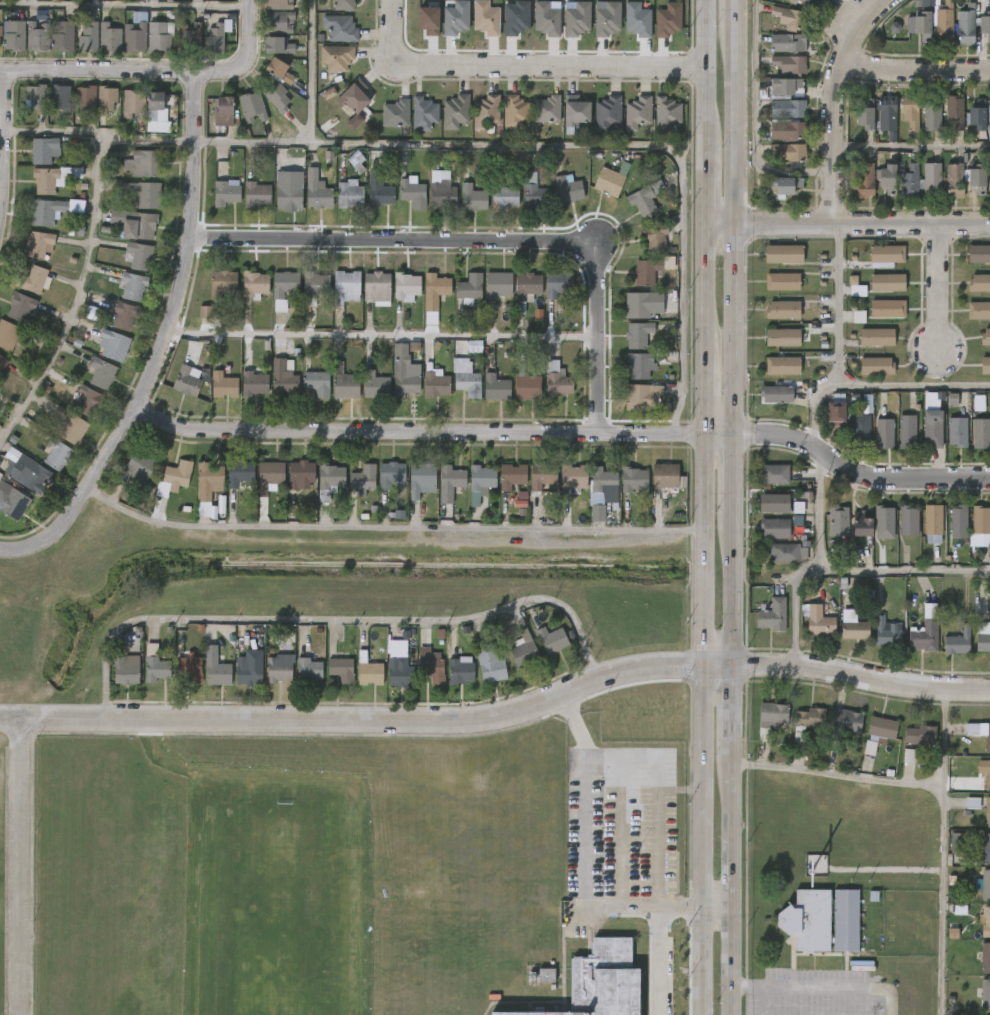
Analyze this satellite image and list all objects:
building: (153, 0)
building: (792, 1)
building: (805, 1)
building: (278, 4)
building: (344, 4)
road: (125, 6)
road: (740, 6)
building: (788, 16)
building: (456, 18)
building: (485, 18)
building: (515, 18)
building: (547, 18)
building: (576, 18)
building: (607, 19)
building: (637, 20)
building: (668, 20)
building: (276, 21)
building: (429, 21)
building: (985, 23)
building: (921, 24)
building: (955, 25)
building: (341, 27)
road: (392, 32)
building: (15, 35)
building: (158, 35)
building: (38, 36)
building: (134, 36)
building: (62, 37)
building: (88, 37)
building: (109, 37)
building: (190, 37)
building: (216, 39)
building: (788, 41)
building: (278, 44)
building: (0, 48)
building: (336, 57)
building: (789, 63)
road: (547, 68)
road: (920, 68)
building: (278, 69)
road: (309, 70)
road: (156, 71)
building: (787, 84)
building: (59, 96)
building: (35, 97)
building: (86, 97)
building: (353, 97)
building: (105, 98)
building: (276, 98)
road: (842, 102)
building: (132, 103)
building: (251, 107)
building: (225, 108)
building: (788, 108)
building: (547, 109)
building: (576, 110)
building: (455, 111)
building: (486, 111)
building: (514, 111)
building: (911, 111)
building: (158, 112)
building: (607, 112)
building: (637, 112)
building: (667, 112)
building: (954, 112)
building: (424, 113)
building: (866, 113)
building: (887, 113)
building: (932, 113)
building: (395, 114)
building: (979, 114)
building: (354, 122)
road: (757, 122)
road: (1, 129)
building: (787, 129)
road: (51, 132)
road: (1, 136)
road: (369, 141)
road: (915, 148)
building: (42, 149)
building: (789, 151)
building: (142, 163)
building: (978, 177)
building: (888, 178)
building: (932, 178)
building: (44, 179)
building: (954, 180)
building: (607, 181)
building: (910, 181)
building: (865, 182)
building: (784, 184)
building: (567, 188)
building: (377, 189)
building: (441, 190)
building: (287, 192)
building: (534, 192)
building: (144, 193)
building: (225, 193)
building: (256, 193)
building: (413, 193)
building: (503, 193)
building: (317, 194)
building: (348, 194)
building: (989, 194)
building: (472, 198)
building: (643, 198)
building: (46, 211)
road: (843, 219)
building: (136, 224)
road: (741, 226)
building: (653, 237)
road: (481, 241)
building: (41, 244)
building: (888, 253)
building: (785, 254)
building: (978, 254)
building: (139, 255)
building: (644, 272)
building: (35, 280)
building: (782, 281)
building: (889, 282)
building: (222, 283)
building: (284, 283)
building: (978, 283)
building: (556, 284)
building: (495, 285)
building: (136, 286)
building: (253, 286)
building: (314, 286)
building: (406, 286)
building: (468, 286)
building: (346, 287)
building: (855, 287)
road: (935, 287)
building: (377, 288)
building: (524, 288)
building: (435, 289)
road: (837, 302)
building: (639, 304)
building: (22, 307)
building: (888, 308)
building: (784, 310)
building: (977, 311)
building: (89, 312)
building: (205, 312)
building: (127, 316)
building: (858, 316)
building: (430, 318)
road: (697, 332)
building: (636, 333)
road: (380, 334)
building: (9, 335)
building: (783, 337)
building: (878, 337)
building: (984, 337)
road: (163, 344)
building: (116, 346)
building: (474, 347)
building: (4, 362)
building: (637, 364)
building: (984, 364)
building: (783, 365)
building: (876, 366)
building: (404, 371)
building: (101, 373)
building: (204, 375)
building: (282, 377)
building: (185, 380)
building: (557, 381)
building: (254, 382)
building: (317, 382)
building: (343, 382)
building: (435, 382)
building: (223, 384)
building: (468, 384)
building: (525, 384)
building: (375, 385)
road: (871, 385)
building: (496, 387)
building: (777, 393)
building: (640, 396)
building: (84, 397)
building: (934, 400)
building: (867, 404)
building: (837, 412)
building: (72, 425)
building: (861, 428)
building: (957, 429)
road: (433, 431)
building: (907, 431)
building: (884, 432)
building: (933, 432)
building: (981, 432)
building: (60, 453)
building: (140, 464)
building: (30, 471)
building: (238, 472)
building: (178, 473)
building: (299, 473)
building: (773, 473)
building: (390, 474)
building: (269, 475)
building: (512, 476)
building: (665, 476)
road: (738, 476)
building: (421, 477)
building: (541, 478)
building: (363, 479)
building: (634, 479)
building: (207, 480)
building: (572, 480)
building: (329, 481)
building: (450, 482)
road: (859, 482)
building: (479, 483)
building: (602, 484)
building: (14, 500)
building: (772, 502)
building: (932, 519)
building: (838, 520)
building: (906, 520)
building: (980, 520)
building: (957, 521)
building: (884, 522)
building: (859, 523)
road: (386, 526)
building: (773, 527)
building: (783, 552)
road: (811, 569)
road: (902, 571)
road: (738, 591)
building: (770, 613)
road: (334, 619)
building: (819, 621)
building: (853, 629)
building: (885, 634)
building: (923, 635)
building: (981, 636)
building: (550, 639)
building: (957, 641)
building: (522, 650)
building: (431, 664)
building: (154, 665)
building: (215, 667)
road: (718, 667)
building: (278, 668)
building: (399, 668)
building: (492, 668)
building: (123, 669)
building: (187, 669)
building: (309, 669)
building: (342, 669)
building: (369, 670)
building: (460, 670)
building: (248, 673)
road: (865, 679)
building: (773, 714)
building: (810, 718)
road: (353, 719)
building: (847, 721)
building: (879, 733)
building: (980, 733)
building: (922, 735)
building: (909, 756)
building: (985, 771)
road: (839, 775)
road: (697, 785)
road: (738, 787)
road: (655, 797)
road: (585, 799)
building: (979, 807)
building: (959, 842)
building: (985, 847)
road: (941, 850)
road: (20, 867)
building: (983, 885)
road: (717, 906)
road: (642, 907)
building: (824, 919)
building: (985, 922)
building: (984, 958)
road: (696, 960)
road: (737, 960)
road: (659, 961)
building: (546, 976)
building: (602, 981)
road: (824, 987)
building: (984, 995)
road: (763, 1000)

